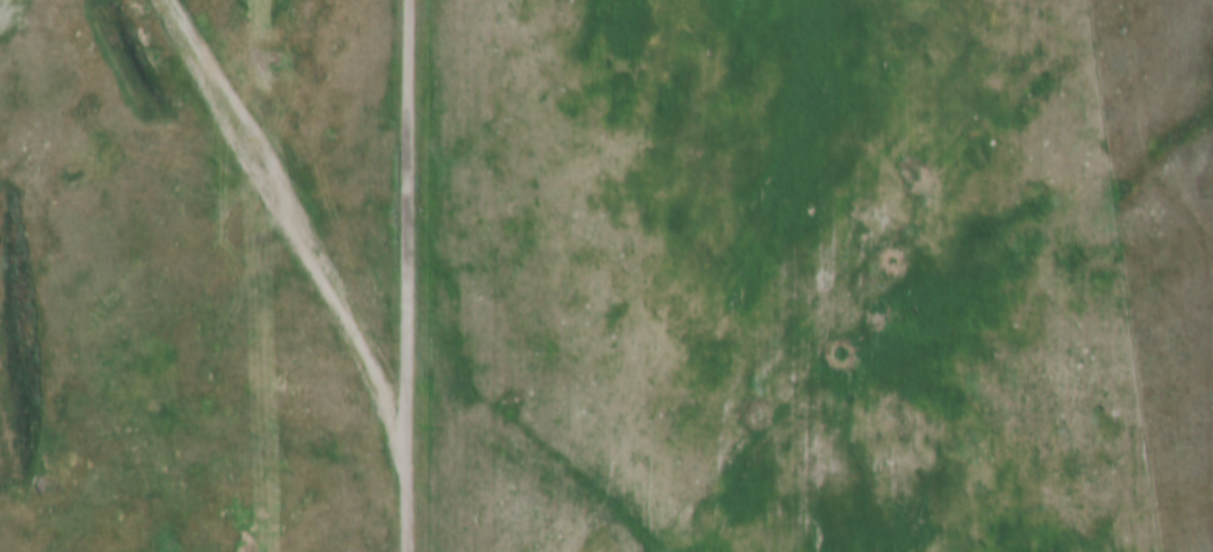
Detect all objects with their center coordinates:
road: (411, 275)

